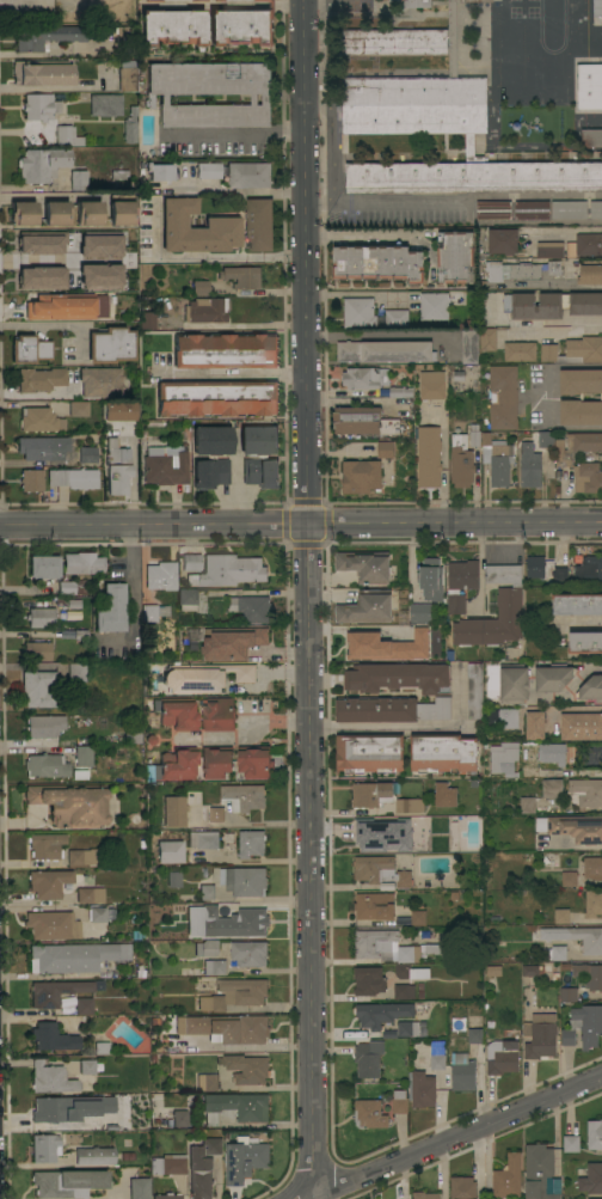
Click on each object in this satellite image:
building: (148, 0)
building: (193, 0)
building: (214, 0)
building: (258, 0)
building: (475, 0)
road: (348, 1)
building: (410, 2)
road: (325, 6)
building: (597, 7)
building: (172, 25)
building: (241, 25)
building: (45, 36)
building: (123, 39)
building: (393, 41)
building: (41, 72)
building: (125, 75)
building: (589, 85)
building: (209, 92)
building: (104, 104)
building: (413, 104)
building: (38, 106)
building: (129, 126)
road: (25, 129)
road: (233, 133)
building: (66, 135)
building: (591, 136)
building: (39, 164)
building: (208, 170)
building: (158, 171)
building: (248, 173)
building: (76, 179)
road: (404, 203)
building: (569, 208)
building: (596, 208)
building: (492, 209)
building: (530, 209)
building: (119, 212)
building: (21, 213)
building: (55, 213)
building: (87, 213)
road: (152, 219)
building: (258, 224)
building: (193, 228)
road: (560, 230)
building: (84, 235)
road: (360, 237)
building: (502, 240)
building: (584, 244)
building: (44, 246)
building: (549, 249)
building: (455, 256)
road: (305, 261)
building: (377, 262)
building: (553, 268)
building: (511, 270)
building: (589, 274)
building: (97, 275)
building: (241, 276)
building: (38, 277)
building: (198, 287)
road: (543, 287)
building: (552, 304)
building: (434, 305)
building: (66, 306)
building: (204, 310)
building: (357, 312)
building: (395, 318)
building: (146, 319)
road: (560, 323)
road: (50, 324)
building: (487, 338)
building: (468, 343)
building: (109, 344)
building: (29, 348)
building: (225, 349)
building: (383, 350)
building: (518, 350)
building: (573, 350)
road: (229, 374)
building: (364, 377)
building: (39, 378)
building: (579, 380)
building: (98, 383)
building: (431, 384)
building: (400, 391)
building: (502, 396)
building: (216, 397)
road: (545, 397)
building: (78, 408)
building: (119, 411)
building: (579, 411)
building: (38, 418)
building: (362, 420)
building: (473, 434)
building: (545, 438)
building: (258, 439)
building: (575, 446)
building: (39, 447)
building: (385, 448)
building: (86, 454)
building: (209, 454)
building: (428, 455)
building: (496, 458)
building: (460, 461)
building: (529, 464)
building: (164, 466)
building: (116, 467)
building: (259, 472)
building: (360, 476)
building: (72, 477)
building: (586, 477)
building: (30, 479)
road: (153, 524)
road: (454, 524)
building: (190, 561)
building: (80, 562)
building: (364, 564)
building: (42, 565)
road: (480, 565)
building: (228, 569)
building: (534, 569)
building: (588, 569)
building: (160, 575)
building: (430, 579)
building: (460, 583)
building: (69, 587)
road: (130, 594)
building: (185, 598)
building: (577, 602)
building: (365, 606)
building: (248, 607)
building: (109, 608)
building: (152, 611)
building: (422, 611)
building: (509, 611)
building: (39, 617)
building: (420, 634)
building: (231, 642)
building: (584, 642)
building: (381, 646)
building: (35, 650)
building: (131, 652)
building: (75, 671)
building: (203, 677)
building: (398, 677)
building: (551, 677)
building: (512, 684)
building: (36, 687)
road: (570, 687)
building: (591, 689)
building: (474, 690)
building: (389, 708)
building: (174, 711)
building: (216, 714)
building: (500, 717)
building: (43, 724)
building: (533, 726)
building: (580, 726)
road: (413, 727)
building: (131, 734)
road: (241, 735)
building: (368, 752)
building: (442, 752)
building: (551, 753)
building: (82, 756)
building: (504, 758)
building: (215, 760)
building: (254, 761)
building: (172, 764)
building: (44, 765)
building: (551, 787)
building: (585, 791)
building: (370, 793)
building: (443, 794)
building: (238, 800)
building: (69, 803)
building: (408, 805)
building: (527, 805)
building: (173, 810)
building: (571, 827)
building: (367, 834)
building: (202, 839)
building: (250, 843)
building: (44, 845)
building: (168, 851)
building: (81, 856)
road: (251, 860)
road: (309, 865)
building: (592, 867)
building: (380, 870)
building: (172, 877)
building: (569, 877)
building: (242, 880)
building: (47, 882)
building: (205, 891)
building: (86, 894)
building: (592, 903)
building: (373, 905)
building: (96, 913)
building: (560, 916)
building: (417, 917)
building: (228, 922)
building: (50, 924)
building: (577, 936)
building: (387, 946)
building: (205, 947)
building: (247, 952)
building: (558, 952)
building: (73, 956)
building: (214, 966)
building: (134, 969)
building: (529, 969)
building: (410, 971)
building: (492, 971)
building: (589, 974)
building: (368, 980)
building: (54, 991)
building: (403, 991)
building: (567, 992)
building: (234, 993)
building: (82, 1005)
building: (380, 1014)
building: (588, 1023)
building: (225, 1027)
building: (407, 1028)
building: (474, 1034)
building: (539, 1035)
building: (50, 1036)
building: (567, 1036)
building: (100, 1047)
building: (502, 1051)
building: (436, 1054)
building: (367, 1058)
building: (85, 1065)
building: (246, 1068)
building: (461, 1071)
building: (50, 1077)
building: (207, 1082)
building: (422, 1089)
building: (399, 1101)
building: (235, 1106)
building: (68, 1107)
building: (368, 1113)
building: (178, 1118)
building: (594, 1133)
road: (456, 1134)
building: (570, 1143)
building: (211, 1144)
building: (43, 1146)
building: (93, 1155)
building: (125, 1156)
building: (242, 1160)
building: (166, 1163)
building: (198, 1173)
building: (539, 1173)
building: (506, 1177)
building: (591, 1177)
building: (66, 1182)
building: (137, 1187)
building: (461, 1187)
building: (424, 1194)
building: (166, 1197)
building: (589, 1198)

